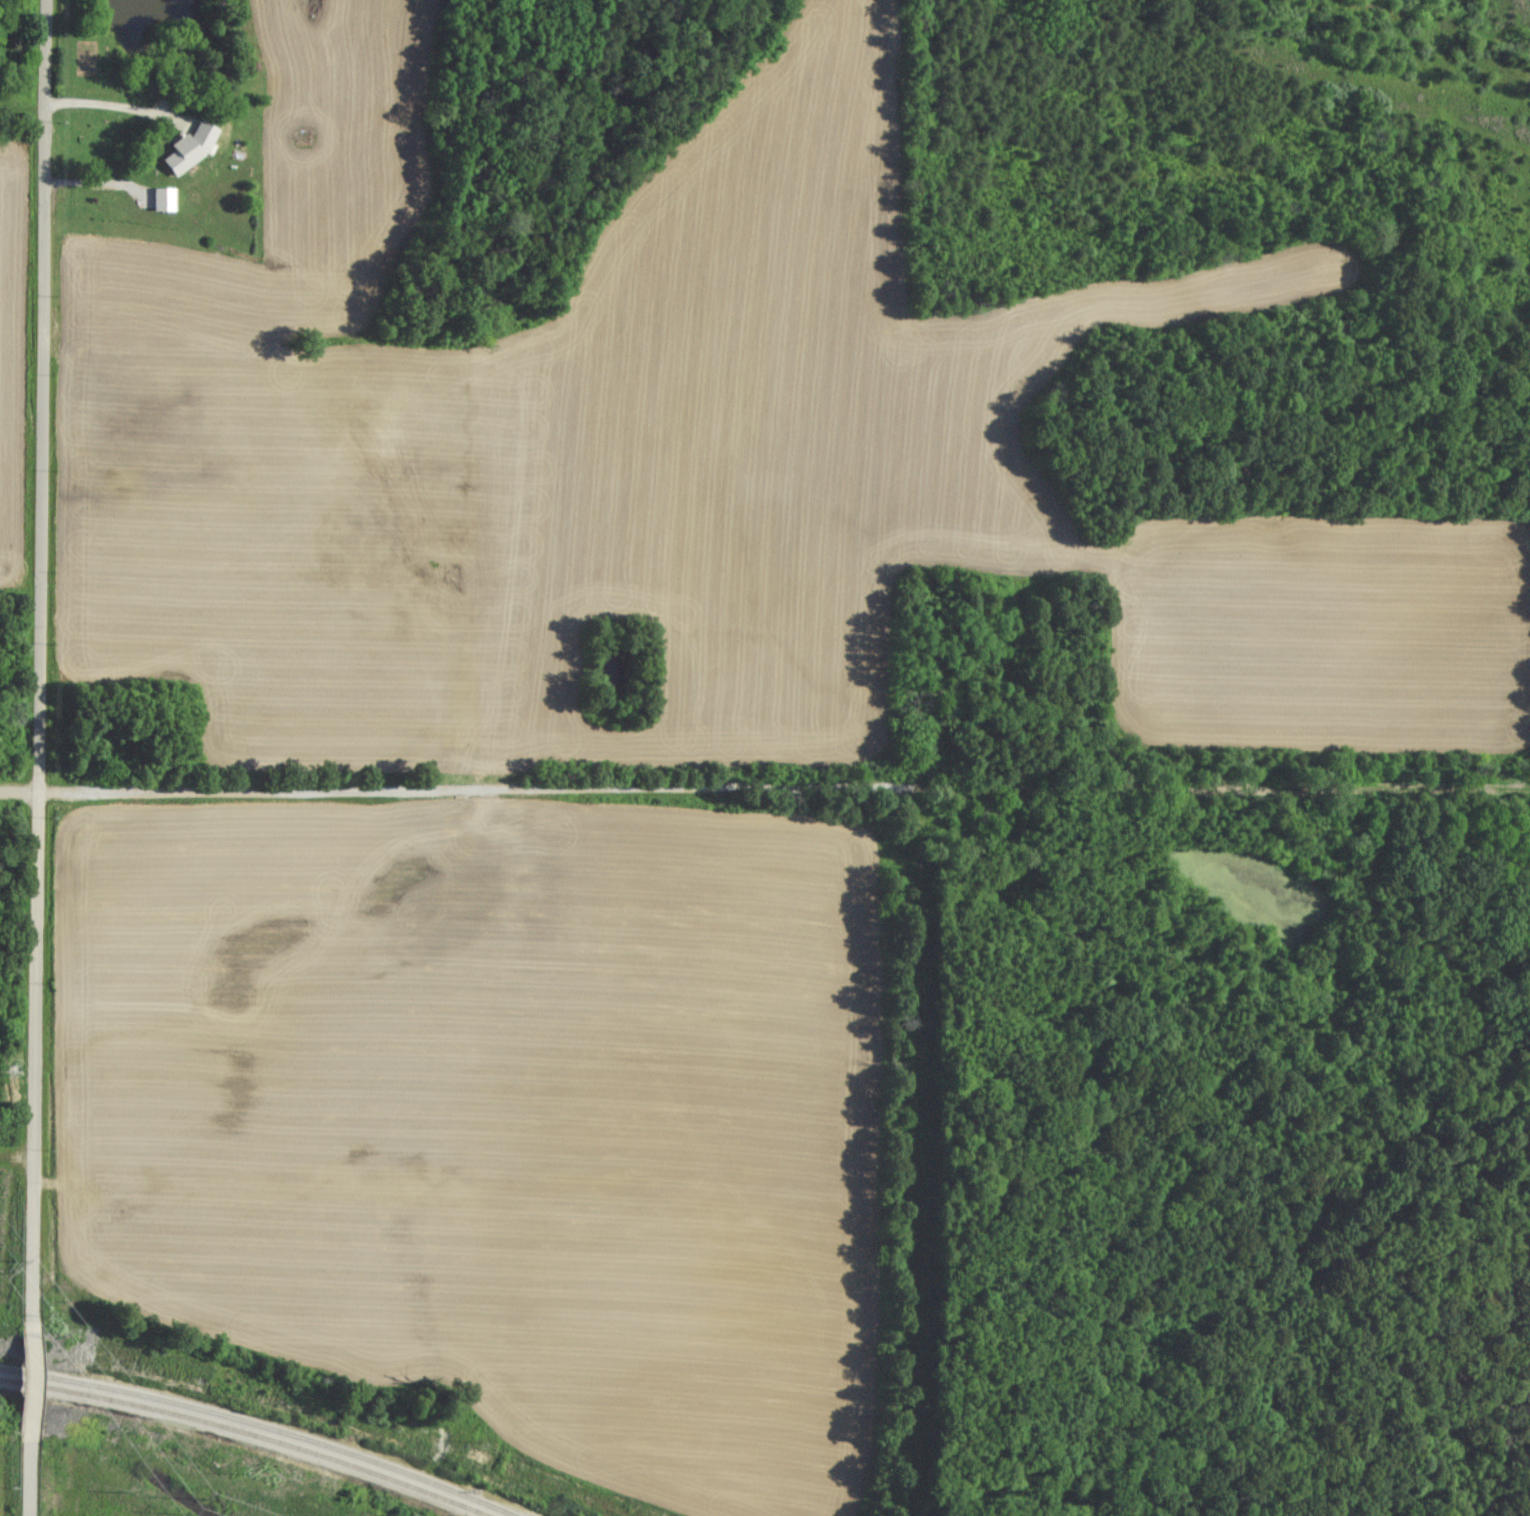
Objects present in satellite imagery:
building: (196, 145)
building: (167, 197)
road: (46, 662)
road: (384, 787)
power tower: (4, 1267)
road: (33, 1382)
railway: (247, 1433)
road: (32, 1478)
power tower: (191, 1507)

